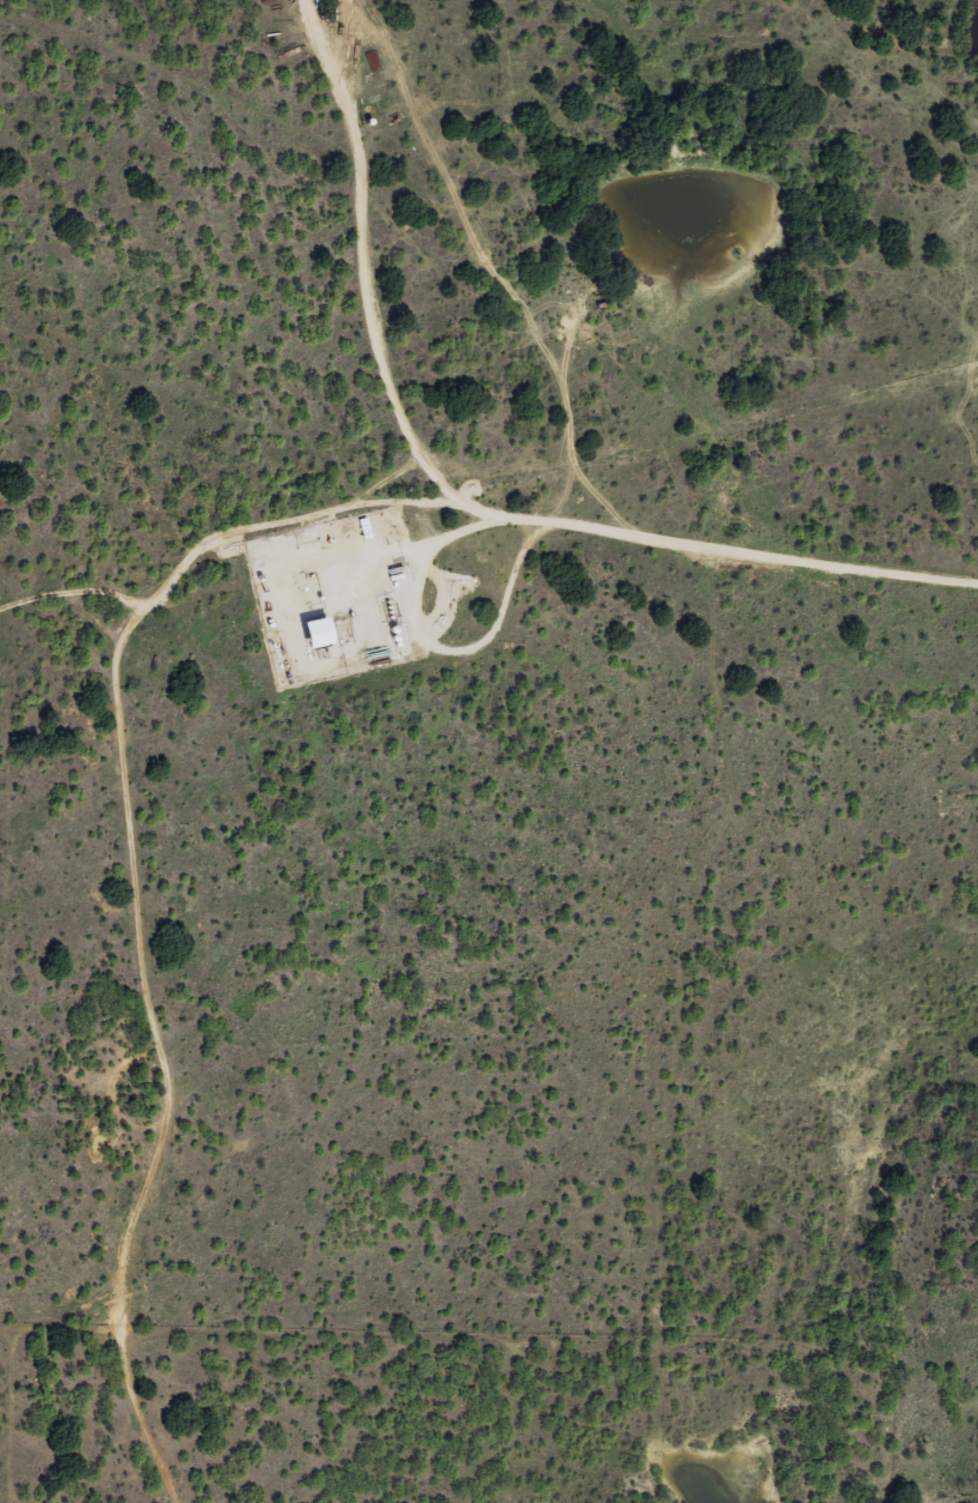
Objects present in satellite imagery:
road: (484, 543)
building: (321, 633)

